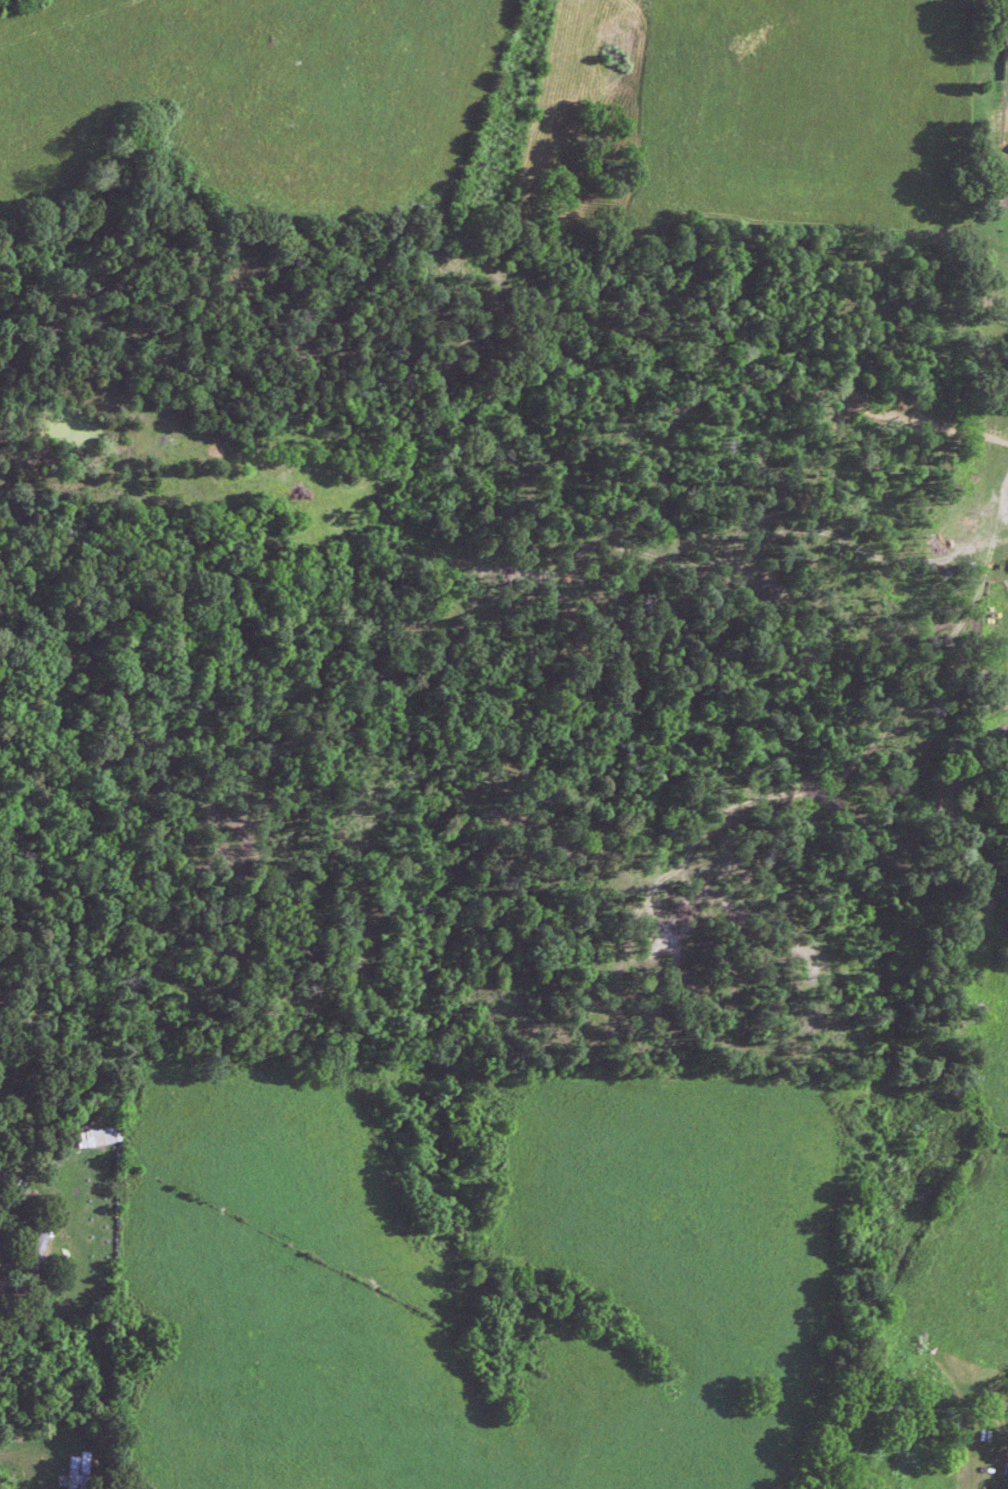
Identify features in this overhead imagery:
building: (94, 1137)
building: (75, 1472)

